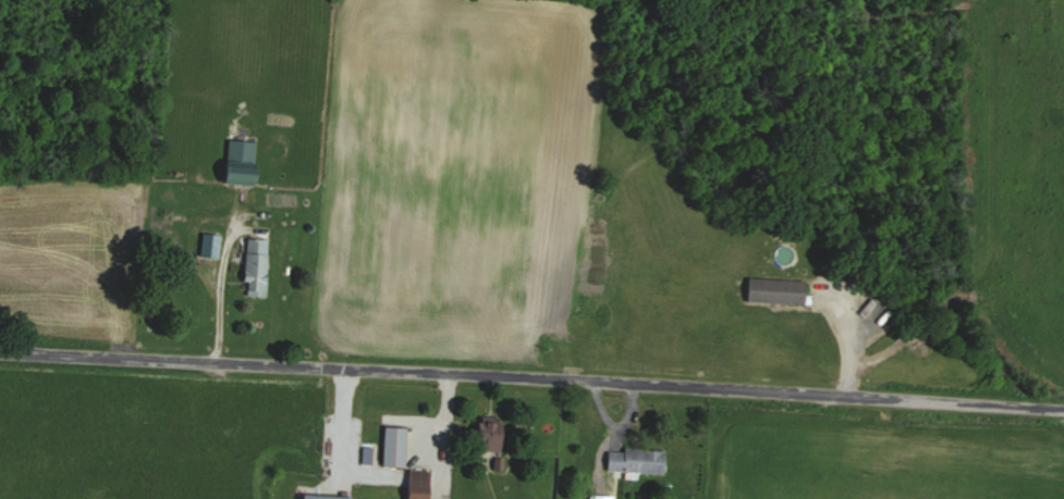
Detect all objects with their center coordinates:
building: (236, 163)
building: (210, 245)
building: (254, 265)
road: (215, 288)
building: (774, 291)
road: (531, 371)
building: (482, 437)
building: (393, 446)
building: (635, 461)
building: (415, 484)
building: (320, 497)

